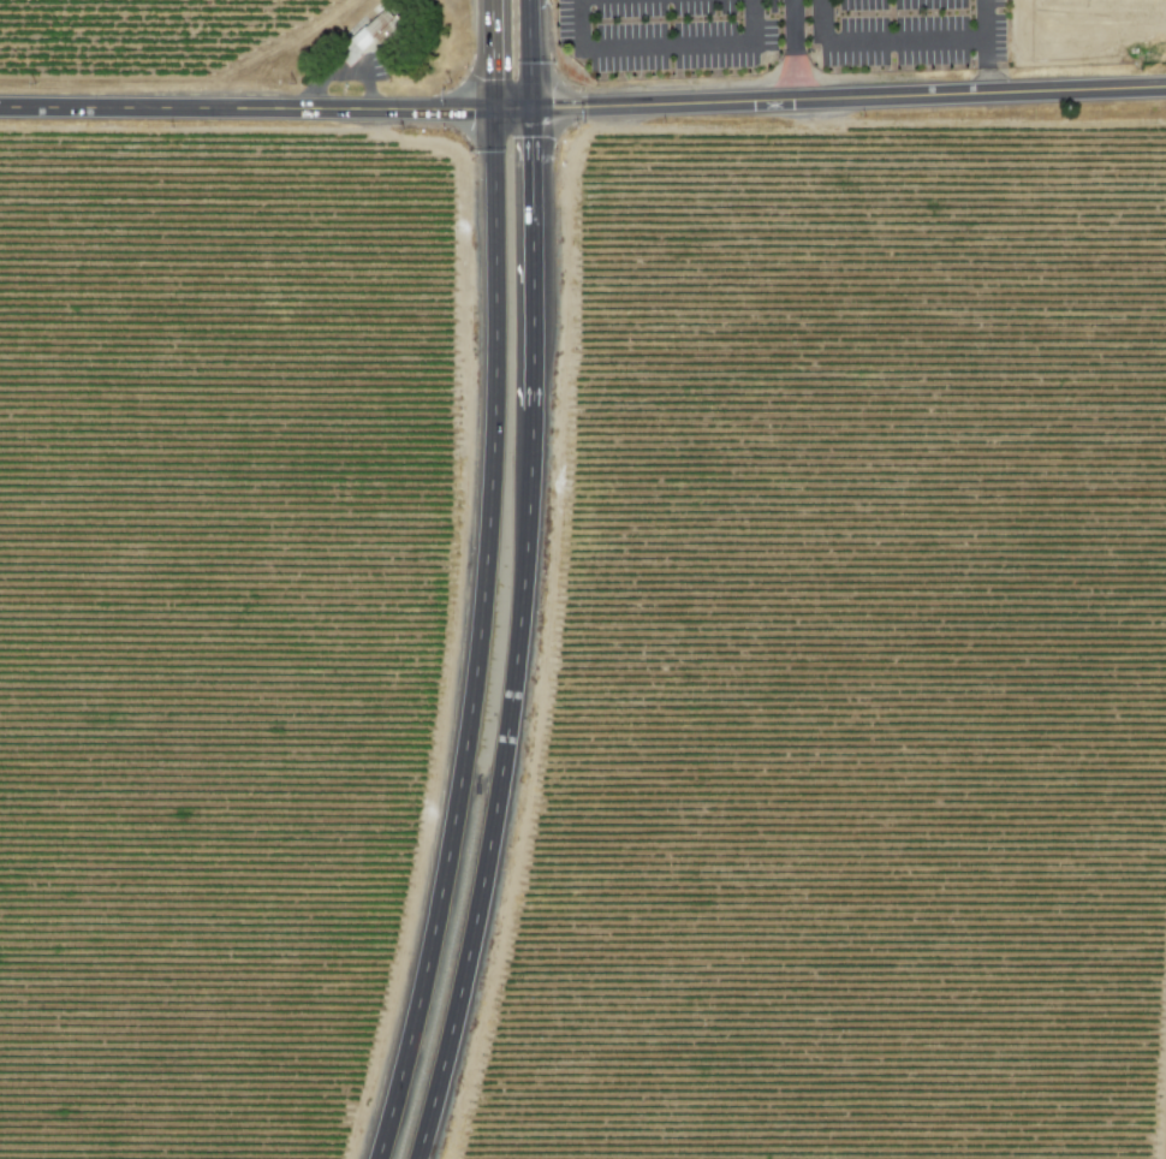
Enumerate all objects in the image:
building: (373, 29)
road: (884, 41)
road: (661, 47)
road: (984, 47)
road: (796, 49)
road: (496, 54)
road: (534, 55)
road: (850, 99)
road: (248, 109)
road: (516, 111)
road: (481, 640)
road: (522, 640)

